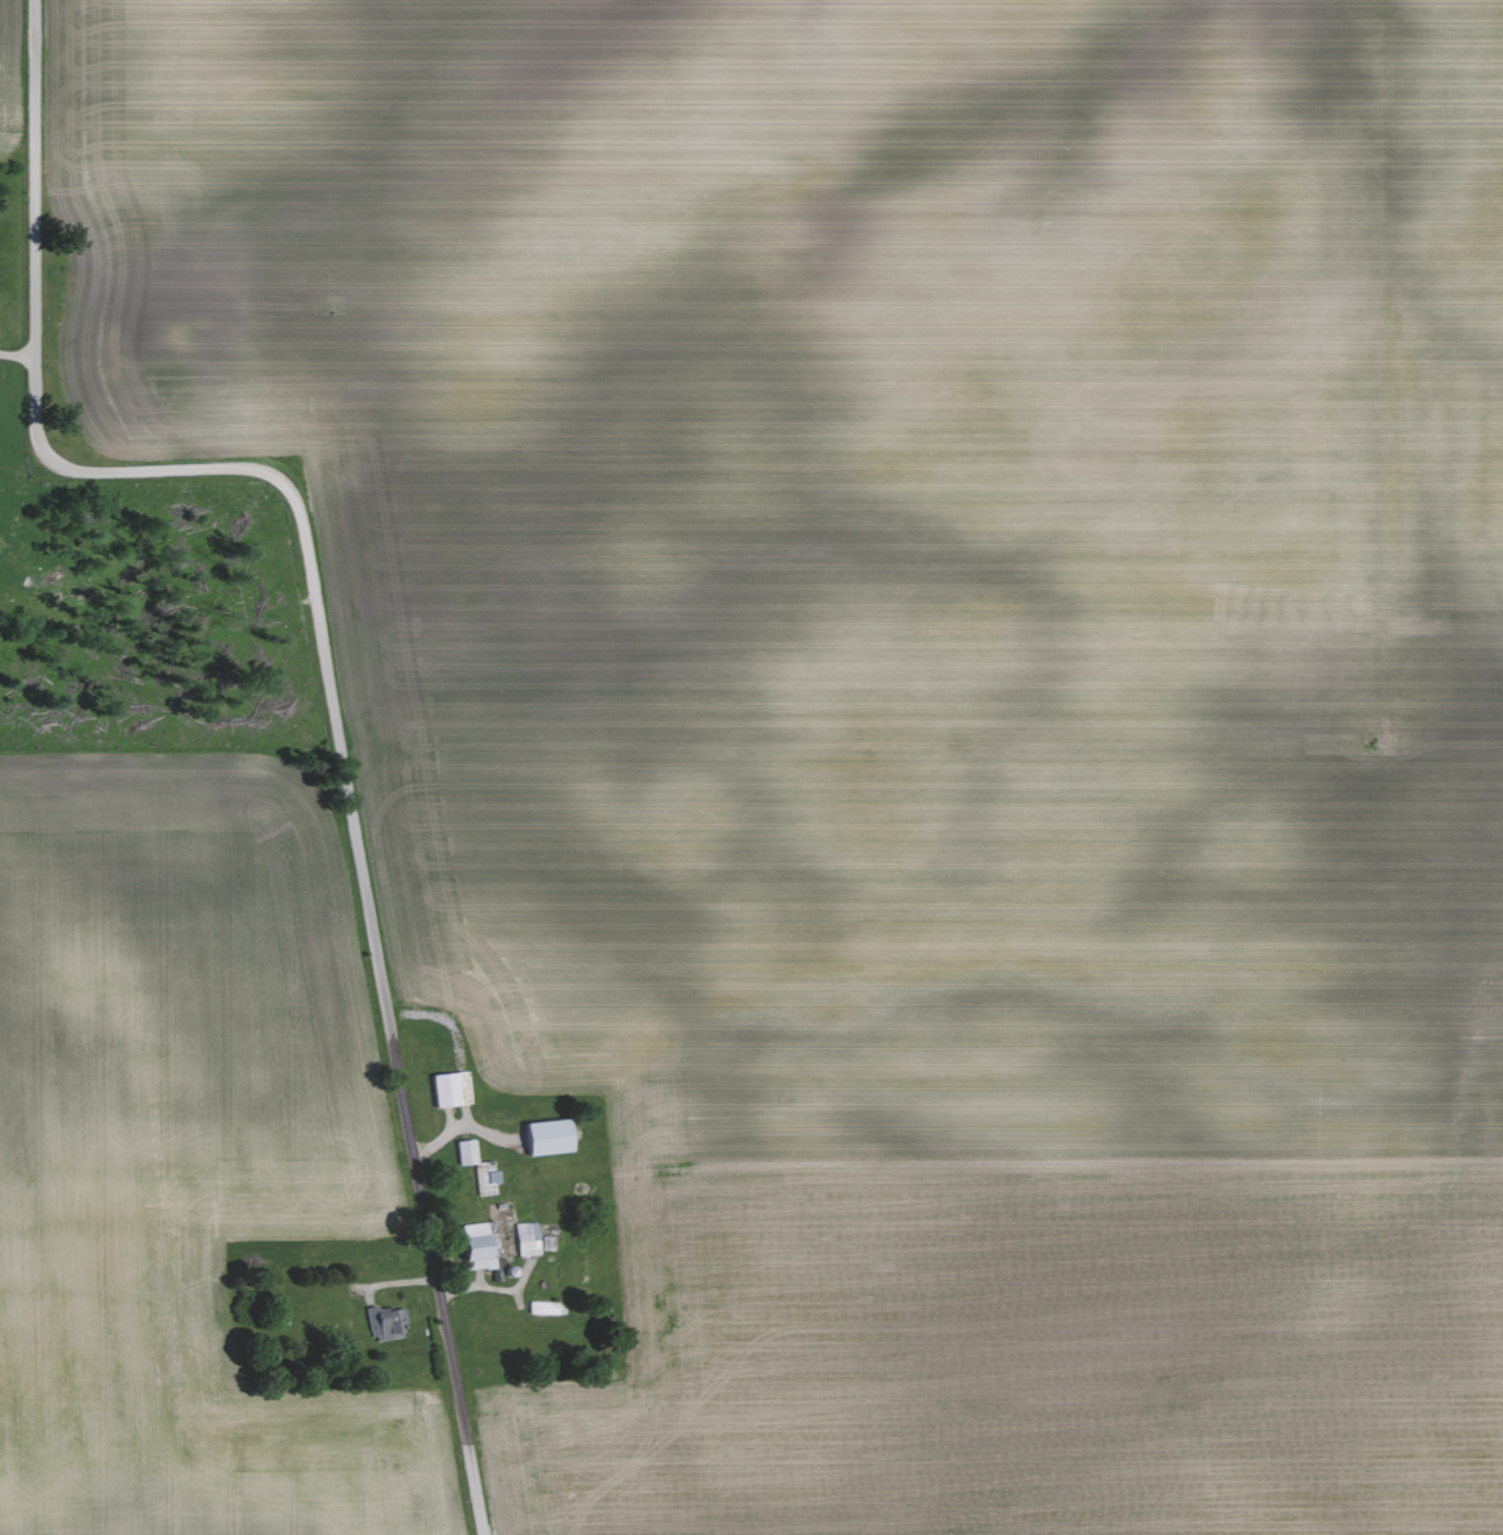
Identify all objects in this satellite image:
road: (17, 353)
road: (16, 452)
road: (323, 655)
building: (452, 1087)
building: (555, 1131)
building: (528, 1236)
building: (480, 1243)

